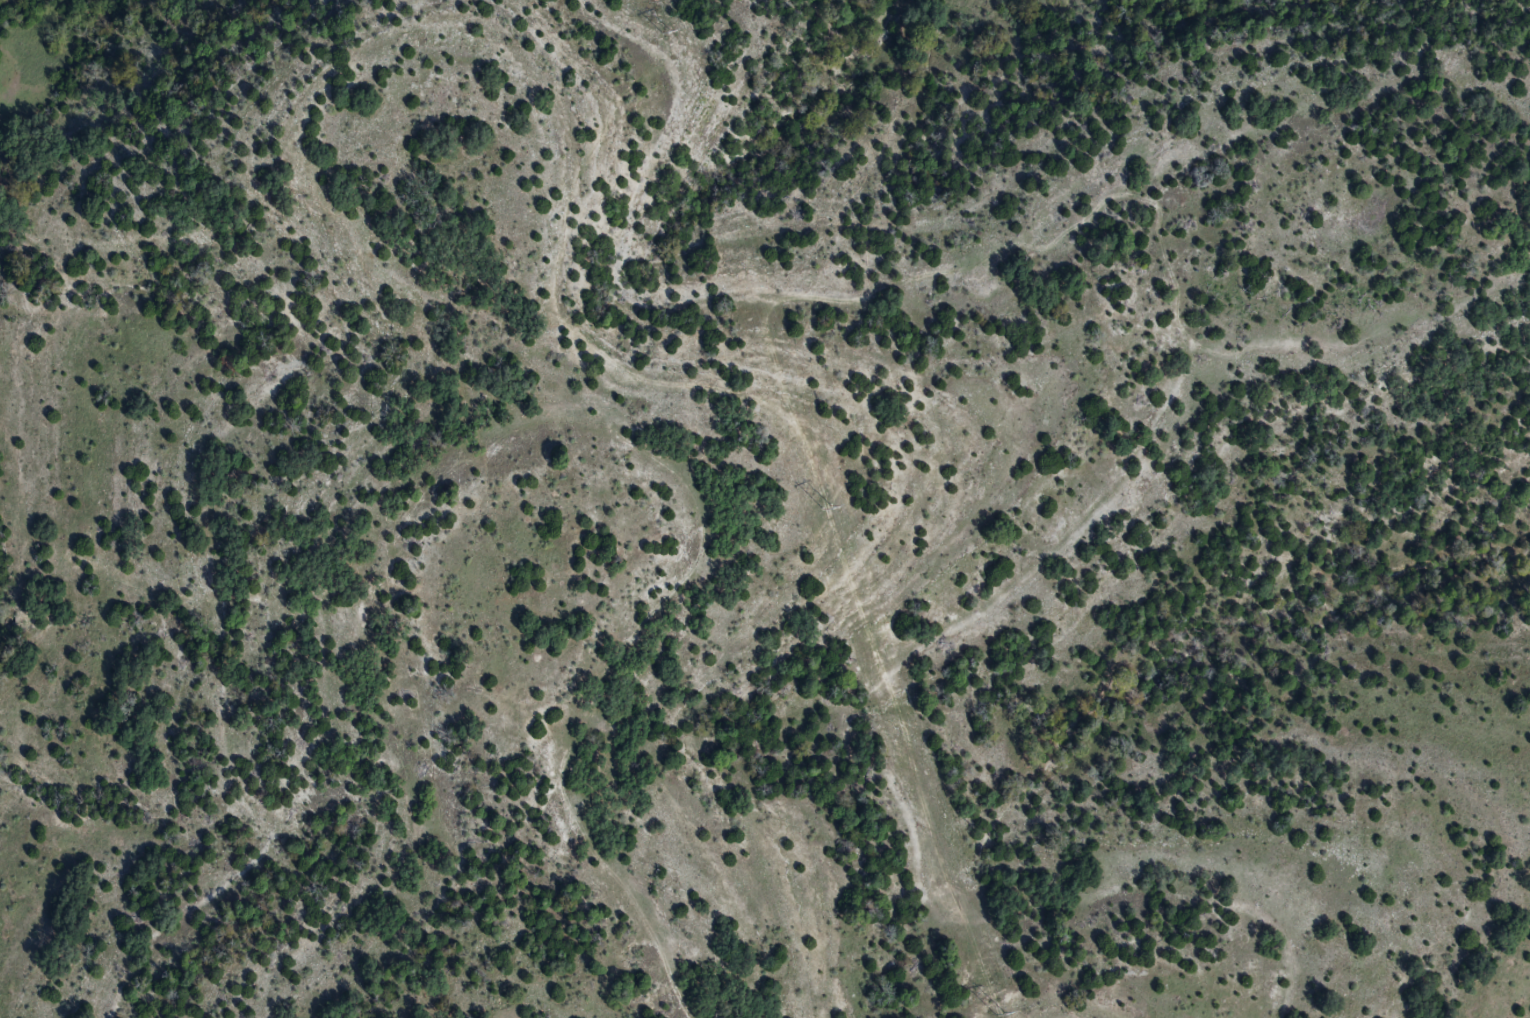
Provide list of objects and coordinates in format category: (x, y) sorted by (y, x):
power tower: (659, 34)
power tower: (821, 508)
power tower: (994, 1014)

